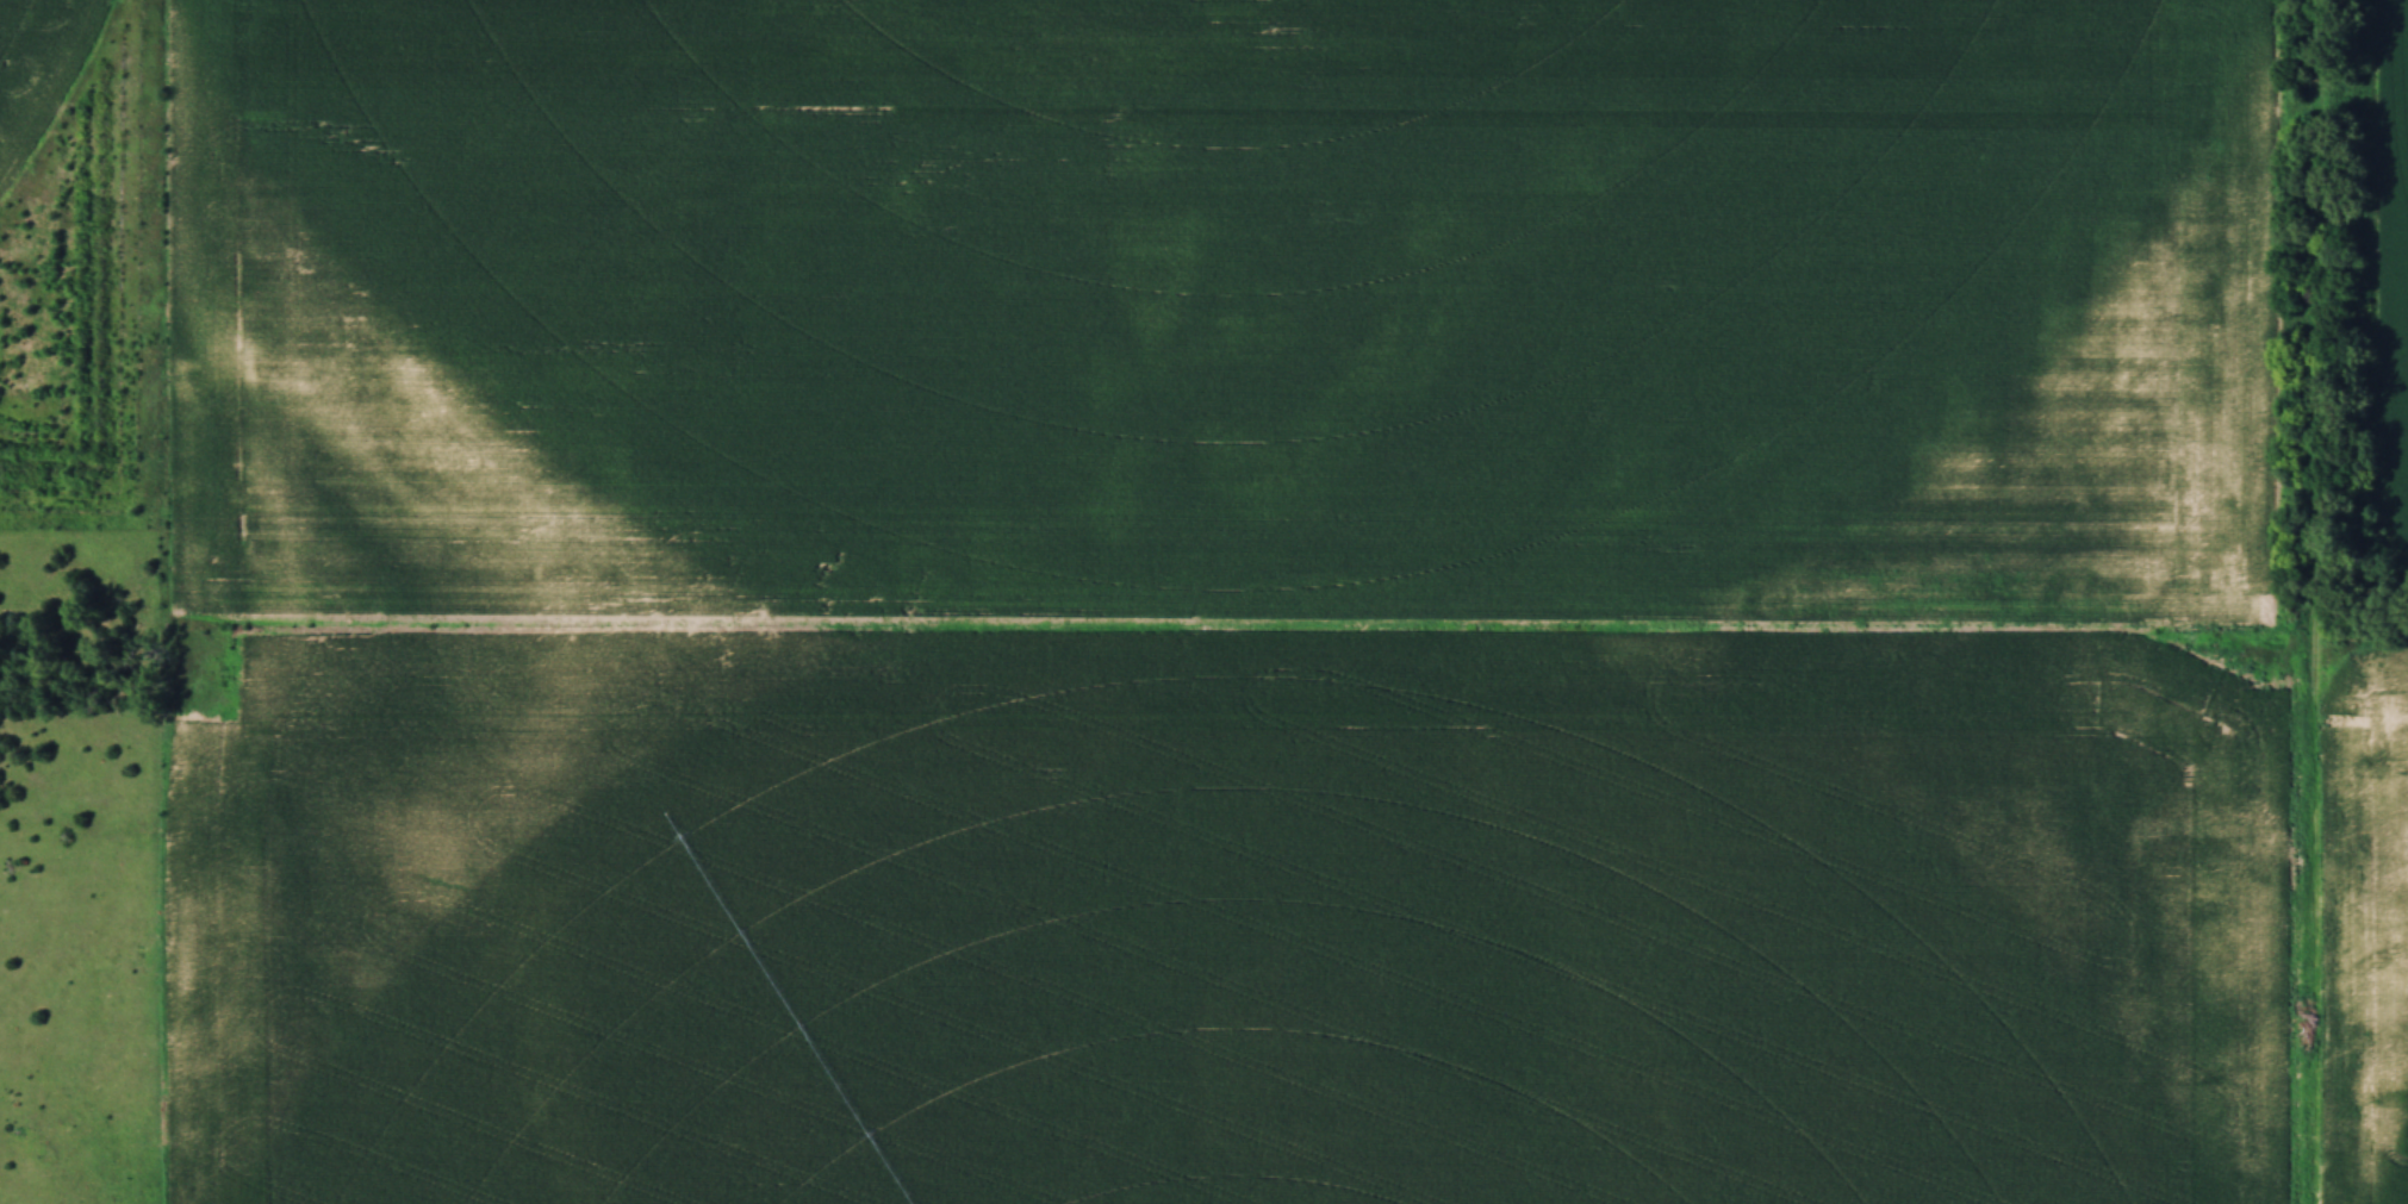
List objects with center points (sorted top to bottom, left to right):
road: (2321, 601)

